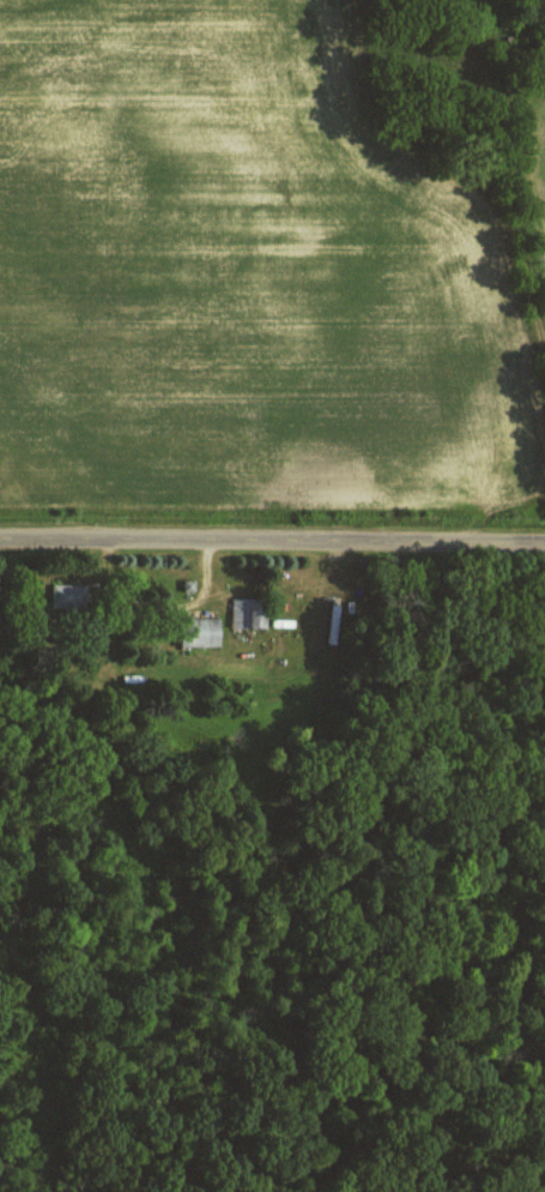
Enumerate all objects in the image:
road: (470, 246)
road: (272, 544)
building: (249, 610)
building: (205, 632)

